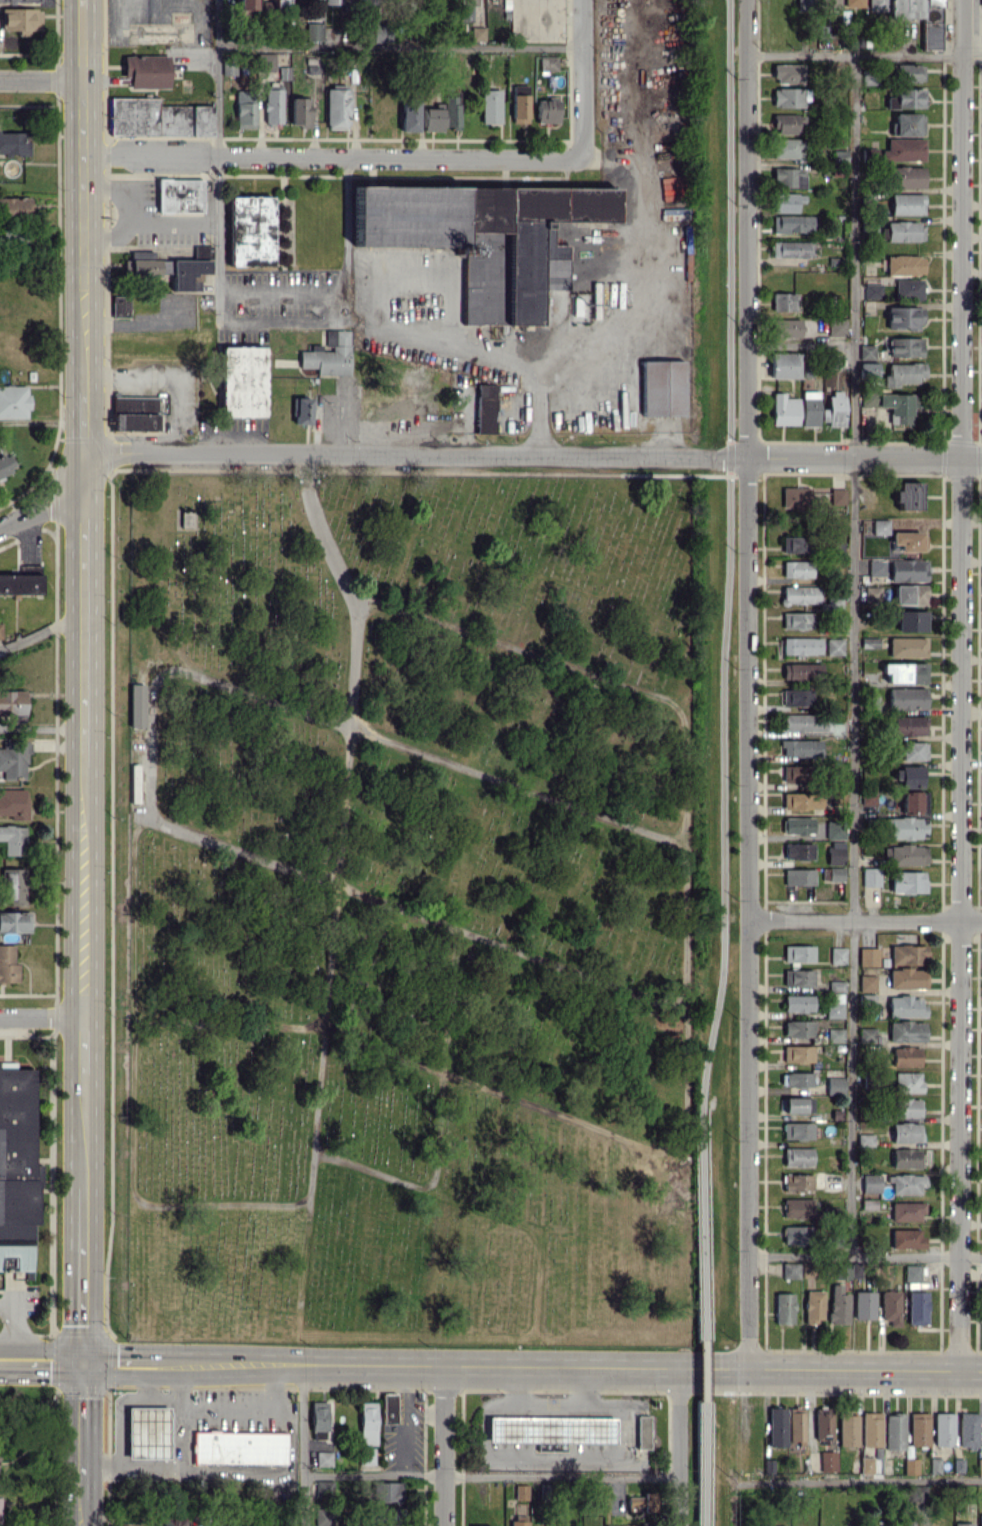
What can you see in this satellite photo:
building: (19, 1)
building: (349, 1)
building: (366, 1)
building: (280, 2)
building: (331, 2)
building: (829, 2)
building: (853, 3)
building: (981, 3)
road: (82, 4)
building: (246, 4)
building: (805, 5)
building: (877, 5)
building: (467, 8)
building: (20, 20)
building: (313, 31)
building: (477, 33)
building: (931, 33)
road: (398, 47)
road: (864, 55)
building: (267, 62)
building: (548, 62)
building: (146, 71)
building: (787, 73)
building: (909, 73)
road: (216, 77)
building: (869, 77)
road: (41, 79)
road: (581, 85)
building: (787, 97)
building: (906, 98)
building: (519, 103)
building: (272, 105)
building: (490, 106)
building: (244, 108)
building: (336, 108)
building: (299, 111)
building: (547, 111)
building: (443, 113)
building: (408, 116)
building: (157, 118)
building: (787, 123)
building: (907, 124)
building: (13, 142)
building: (786, 148)
building: (903, 150)
building: (869, 154)
road: (323, 155)
building: (839, 157)
building: (906, 176)
building: (788, 177)
road: (118, 191)
building: (179, 195)
road: (84, 199)
building: (784, 202)
building: (906, 203)
building: (15, 206)
road: (142, 223)
building: (791, 223)
building: (904, 230)
building: (250, 231)
building: (485, 237)
building: (792, 248)
building: (904, 265)
road: (635, 269)
building: (908, 288)
building: (872, 290)
building: (784, 301)
building: (120, 306)
road: (280, 317)
building: (903, 317)
building: (787, 327)
building: (836, 327)
road: (118, 328)
building: (904, 347)
building: (866, 351)
building: (328, 354)
road: (479, 355)
building: (784, 365)
building: (867, 370)
building: (903, 373)
road: (164, 378)
building: (241, 381)
building: (661, 388)
building: (869, 397)
building: (13, 401)
building: (896, 407)
building: (485, 408)
building: (809, 408)
building: (784, 409)
building: (833, 409)
building: (301, 410)
building: (134, 412)
road: (347, 419)
road: (86, 423)
road: (533, 455)
building: (6, 463)
building: (907, 495)
building: (795, 496)
building: (837, 496)
road: (41, 504)
building: (183, 519)
building: (879, 526)
building: (907, 540)
building: (794, 544)
road: (728, 554)
building: (876, 567)
building: (796, 569)
building: (907, 569)
building: (22, 581)
building: (800, 594)
building: (871, 594)
building: (909, 594)
road: (86, 609)
building: (796, 620)
building: (911, 620)
road: (43, 629)
building: (1, 630)
building: (869, 642)
building: (801, 645)
building: (833, 646)
building: (907, 646)
road: (853, 656)
building: (801, 671)
building: (904, 672)
road: (747, 684)
road: (961, 685)
building: (796, 696)
building: (906, 698)
building: (13, 704)
building: (136, 704)
building: (806, 723)
building: (908, 726)
road: (151, 745)
building: (800, 748)
building: (912, 751)
building: (14, 758)
railway: (714, 762)
building: (795, 773)
building: (907, 777)
building: (867, 796)
building: (801, 800)
building: (912, 801)
building: (13, 803)
building: (797, 825)
building: (904, 827)
building: (834, 829)
building: (13, 839)
building: (798, 851)
building: (834, 853)
building: (903, 854)
building: (834, 874)
building: (798, 876)
building: (870, 876)
building: (906, 881)
building: (13, 886)
road: (85, 891)
park: (425, 907)
road: (865, 919)
building: (15, 921)
building: (797, 953)
building: (907, 954)
building: (837, 955)
building: (867, 956)
building: (8, 964)
building: (797, 977)
building: (906, 978)
building: (866, 983)
building: (834, 998)
building: (797, 1003)
building: (905, 1006)
road: (42, 1017)
building: (797, 1028)
building: (905, 1031)
building: (865, 1034)
road: (85, 1045)
building: (797, 1053)
building: (903, 1056)
road: (444, 1060)
building: (795, 1079)
building: (906, 1082)
building: (834, 1085)
building: (796, 1104)
building: (906, 1107)
road: (85, 1130)
building: (797, 1130)
building: (904, 1132)
road: (617, 1137)
building: (864, 1139)
building: (797, 1156)
building: (905, 1158)
building: (17, 1163)
road: (311, 1170)
building: (798, 1182)
building: (870, 1183)
building: (906, 1183)
building: (798, 1208)
building: (906, 1211)
building: (796, 1235)
building: (905, 1238)
road: (864, 1258)
building: (790, 1270)
building: (912, 1272)
road: (84, 1275)
building: (863, 1304)
building: (838, 1305)
building: (813, 1306)
building: (890, 1306)
building: (917, 1307)
building: (784, 1308)
road: (700, 1316)
road: (42, 1360)
traffic signals: (84, 1361)
road: (123, 1361)
road: (573, 1366)
road: (147, 1382)
road: (182, 1382)
road: (185, 1403)
road: (548, 1406)
building: (388, 1407)
road: (303, 1419)
building: (318, 1419)
building: (367, 1423)
building: (795, 1423)
building: (822, 1425)
building: (776, 1426)
road: (82, 1428)
building: (871, 1428)
building: (918, 1429)
building: (943, 1429)
building: (967, 1429)
building: (550, 1430)
building: (848, 1430)
building: (894, 1431)
building: (147, 1432)
building: (642, 1432)
road: (444, 1445)
road: (677, 1446)
building: (239, 1447)
building: (367, 1456)
building: (322, 1458)
building: (827, 1460)
building: (866, 1465)
building: (910, 1465)
building: (979, 1466)
road: (220, 1473)
road: (490, 1474)
road: (872, 1480)
building: (323, 1487)
building: (387, 1491)
building: (521, 1492)
building: (919, 1493)
road: (302, 1500)
road: (81, 1511)
building: (323, 1516)
building: (171, 1520)
building: (519, 1520)
building: (980, 1520)
building: (963, 1524)
building: (782, 1525)
building: (915, 1525)

